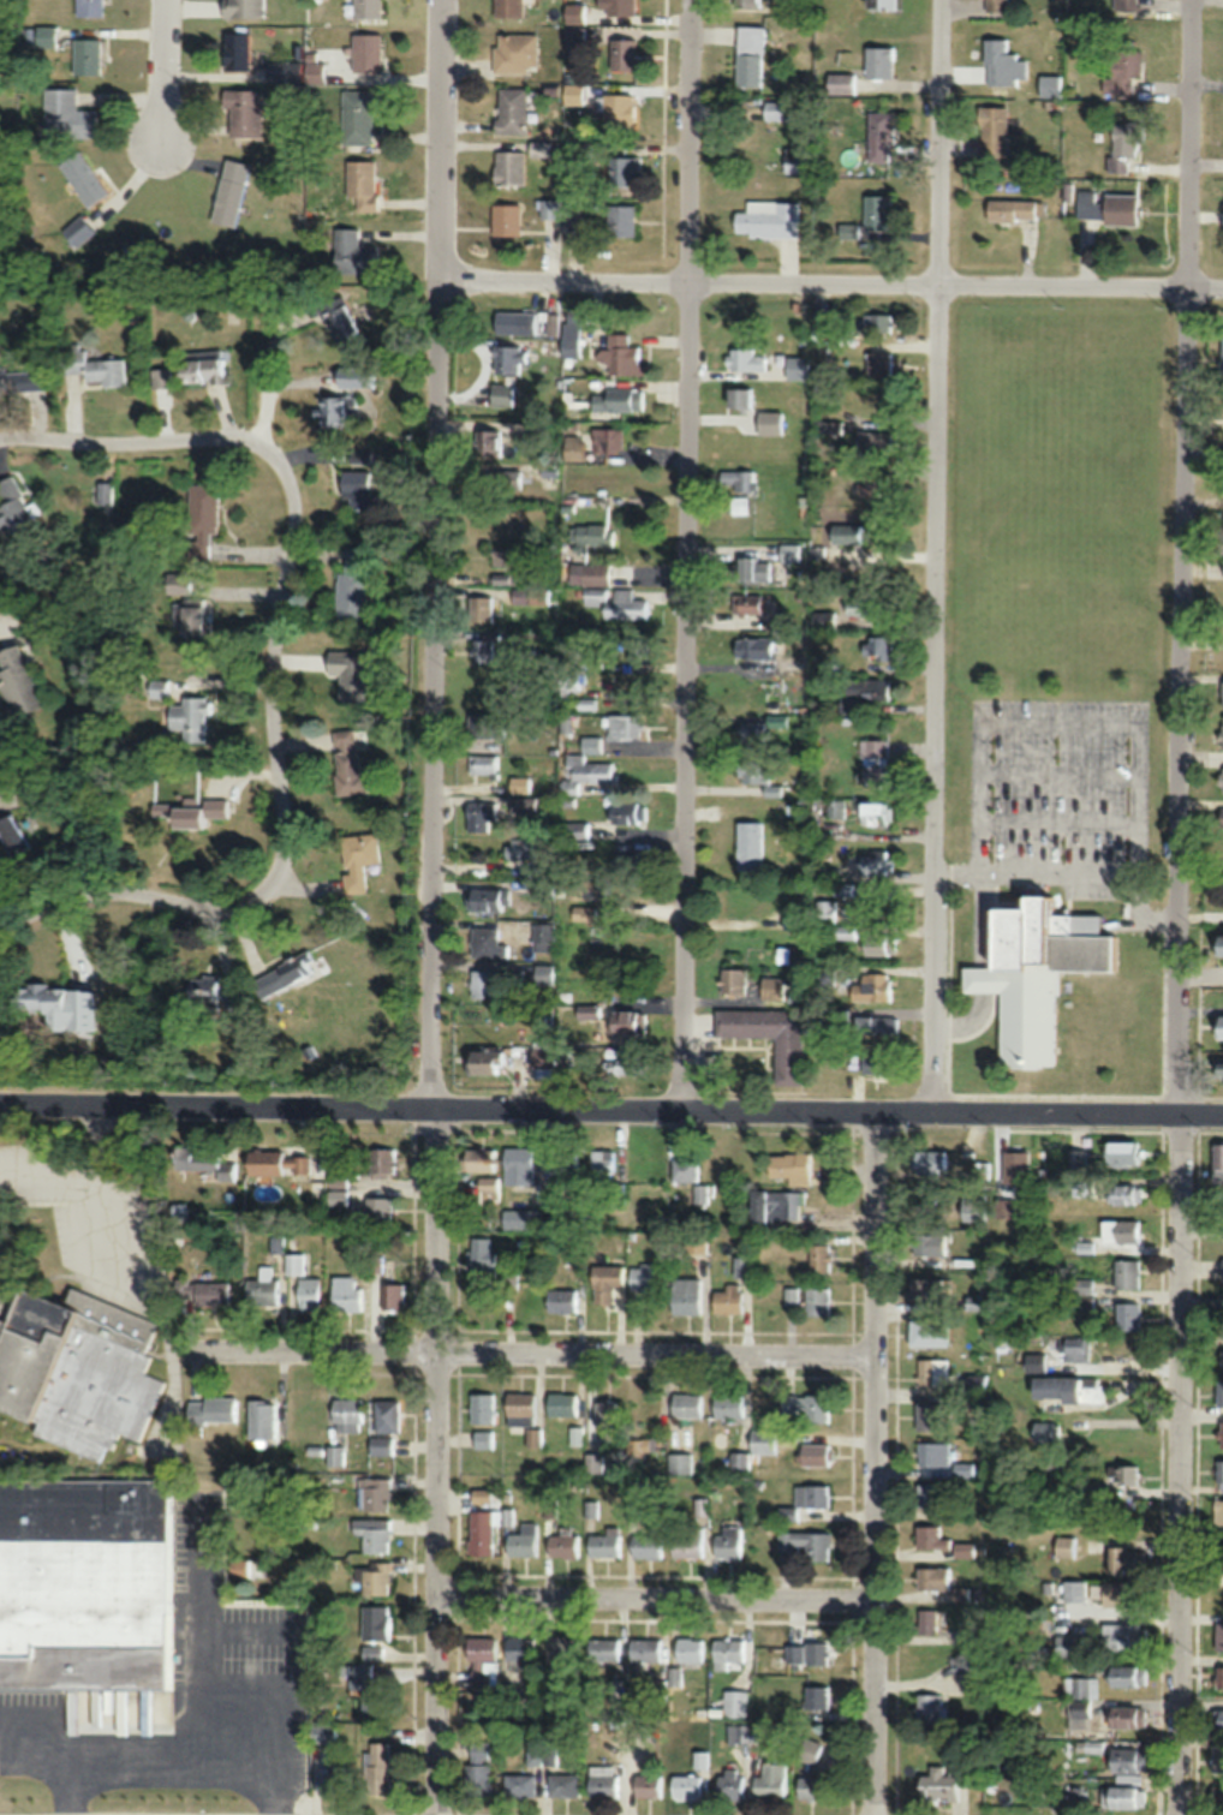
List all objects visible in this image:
building: (745, 4)
building: (1124, 4)
building: (878, 5)
building: (995, 6)
building: (88, 7)
building: (618, 7)
building: (243, 8)
building: (366, 8)
building: (508, 8)
building: (574, 13)
building: (43, 36)
building: (235, 49)
building: (365, 52)
building: (514, 52)
building: (622, 53)
building: (748, 55)
building: (85, 56)
building: (878, 61)
building: (1002, 64)
building: (1123, 68)
building: (284, 71)
road: (163, 73)
building: (840, 83)
building: (1049, 85)
building: (512, 109)
building: (775, 109)
building: (618, 111)
building: (244, 112)
building: (66, 114)
building: (357, 114)
building: (991, 132)
building: (879, 136)
building: (1122, 144)
building: (798, 160)
building: (508, 167)
building: (624, 169)
building: (83, 177)
building: (360, 183)
building: (228, 192)
building: (1108, 205)
building: (550, 208)
building: (1013, 209)
building: (876, 211)
building: (574, 214)
building: (505, 219)
building: (620, 220)
building: (766, 220)
building: (78, 231)
building: (848, 231)
building: (353, 252)
road: (830, 282)
building: (821, 321)
building: (340, 322)
building: (521, 322)
building: (876, 323)
building: (569, 339)
building: (1222, 352)
building: (622, 356)
building: (509, 357)
building: (745, 359)
building: (877, 363)
building: (201, 365)
building: (91, 368)
building: (22, 380)
building: (501, 394)
building: (163, 399)
building: (740, 399)
building: (616, 400)
building: (332, 408)
building: (829, 426)
building: (605, 440)
building: (488, 441)
road: (143, 442)
building: (871, 442)
building: (572, 447)
building: (501, 479)
building: (738, 479)
building: (867, 485)
building: (356, 488)
building: (589, 488)
building: (105, 492)
building: (739, 505)
building: (13, 506)
building: (199, 518)
building: (849, 533)
building: (593, 536)
building: (788, 551)
road: (687, 554)
building: (501, 555)
road: (936, 555)
building: (750, 568)
building: (587, 573)
building: (503, 578)
building: (352, 586)
building: (530, 596)
building: (616, 603)
building: (748, 603)
building: (863, 604)
building: (479, 609)
building: (191, 617)
building: (824, 620)
building: (774, 623)
building: (634, 645)
building: (752, 647)
building: (877, 647)
building: (482, 650)
building: (353, 674)
building: (17, 681)
building: (157, 688)
building: (861, 693)
building: (1221, 693)
building: (190, 718)
building: (775, 722)
building: (485, 726)
building: (622, 727)
building: (1221, 730)
building: (748, 735)
building: (872, 763)
building: (347, 764)
building: (483, 765)
building: (585, 768)
building: (751, 772)
road: (1060, 772)
building: (1221, 780)
building: (519, 784)
parking lot: (1060, 793)
building: (523, 804)
building: (214, 807)
building: (835, 808)
building: (626, 812)
building: (178, 813)
road: (285, 813)
building: (872, 814)
building: (479, 816)
building: (1221, 818)
road: (1058, 820)
building: (574, 830)
building: (747, 846)
building: (526, 848)
building: (357, 860)
building: (873, 862)
building: (625, 865)
road: (956, 871)
road: (978, 872)
building: (583, 889)
building: (841, 889)
building: (485, 900)
road: (434, 907)
road: (1181, 907)
building: (825, 911)
road: (1143, 911)
building: (583, 913)
building: (843, 935)
building: (543, 936)
building: (488, 943)
building: (878, 943)
building: (1217, 944)
building: (1034, 968)
building: (284, 974)
building: (542, 974)
building: (730, 980)
building: (484, 984)
building: (870, 986)
building: (772, 987)
building: (209, 993)
building: (44, 1004)
building: (841, 1016)
building: (627, 1021)
building: (876, 1025)
building: (1218, 1026)
building: (787, 1058)
building: (483, 1059)
building: (542, 1062)
building: (876, 1062)
building: (627, 1063)
building: (1217, 1065)
road: (1019, 1094)
road: (611, 1107)
building: (1121, 1152)
building: (477, 1159)
building: (204, 1160)
building: (381, 1160)
building: (278, 1162)
building: (562, 1162)
building: (929, 1162)
building: (1217, 1162)
building: (602, 1163)
building: (519, 1164)
building: (789, 1165)
building: (1014, 1166)
building: (685, 1168)
building: (978, 1170)
building: (338, 1177)
building: (485, 1184)
building: (1084, 1187)
building: (702, 1192)
building: (1123, 1193)
building: (339, 1196)
building: (757, 1207)
building: (973, 1207)
building: (378, 1208)
building: (791, 1208)
building: (1004, 1208)
building: (525, 1212)
building: (1222, 1226)
building: (1120, 1230)
building: (696, 1242)
building: (927, 1244)
building: (818, 1253)
building: (479, 1255)
building: (1222, 1266)
building: (1126, 1272)
building: (644, 1278)
building: (605, 1280)
building: (1084, 1285)
building: (925, 1288)
building: (262, 1290)
building: (309, 1291)
building: (210, 1292)
building: (345, 1294)
building: (390, 1295)
building: (685, 1295)
building: (791, 1295)
building: (560, 1298)
building: (729, 1300)
building: (816, 1300)
building: (1126, 1315)
building: (927, 1332)
building: (1075, 1348)
building: (1221, 1357)
road: (531, 1365)
building: (76, 1368)
building: (932, 1371)
building: (1054, 1387)
building: (1093, 1389)
building: (1219, 1391)
building: (561, 1403)
building: (686, 1404)
building: (728, 1404)
building: (807, 1405)
building: (482, 1407)
building: (519, 1408)
building: (214, 1410)
building: (345, 1414)
building: (384, 1415)
building: (929, 1415)
building: (605, 1417)
building: (261, 1419)
building: (1045, 1432)
building: (1221, 1432)
building: (482, 1438)
building: (381, 1445)
building: (753, 1450)
building: (933, 1452)
building: (335, 1453)
building: (812, 1453)
road: (875, 1462)
building: (680, 1463)
building: (964, 1469)
building: (1218, 1469)
building: (1123, 1471)
building: (1097, 1489)
building: (372, 1492)
building: (926, 1493)
building: (804, 1499)
building: (1218, 1510)
building: (481, 1532)
building: (372, 1533)
building: (930, 1535)
building: (523, 1540)
building: (728, 1541)
building: (805, 1542)
building: (604, 1544)
building: (563, 1545)
building: (646, 1545)
building: (686, 1545)
building: (1063, 1546)
building: (964, 1548)
building: (1218, 1554)
building: (1121, 1558)
building: (238, 1566)
building: (84, 1571)
building: (931, 1576)
building: (375, 1577)
building: (1073, 1590)
building: (1117, 1592)
road: (655, 1607)
building: (926, 1620)
building: (374, 1622)
building: (1218, 1634)
building: (1122, 1635)
building: (1069, 1646)
building: (521, 1648)
building: (566, 1649)
building: (604, 1649)
building: (645, 1649)
building: (690, 1649)
building: (371, 1650)
building: (729, 1650)
building: (809, 1653)
building: (966, 1653)
building: (481, 1660)
building: (1126, 1674)
building: (1219, 1674)
building: (1081, 1686)
building: (370, 1688)
building: (514, 1696)
building: (816, 1696)
building: (735, 1702)
building: (1080, 1707)
building: (930, 1709)
building: (1126, 1715)
building: (1218, 1719)
building: (322, 1732)
building: (747, 1733)
building: (1090, 1749)
building: (809, 1750)
building: (542, 1756)
building: (1217, 1757)
building: (1126, 1759)
building: (377, 1767)
building: (477, 1767)
building: (330, 1779)
building: (603, 1780)
building: (770, 1781)
building: (563, 1784)
building: (648, 1784)
building: (730, 1784)
building: (937, 1784)
building: (519, 1785)
building: (685, 1786)
building: (809, 1787)
building: (1076, 1793)
building: (1117, 1796)
building: (1218, 1797)

